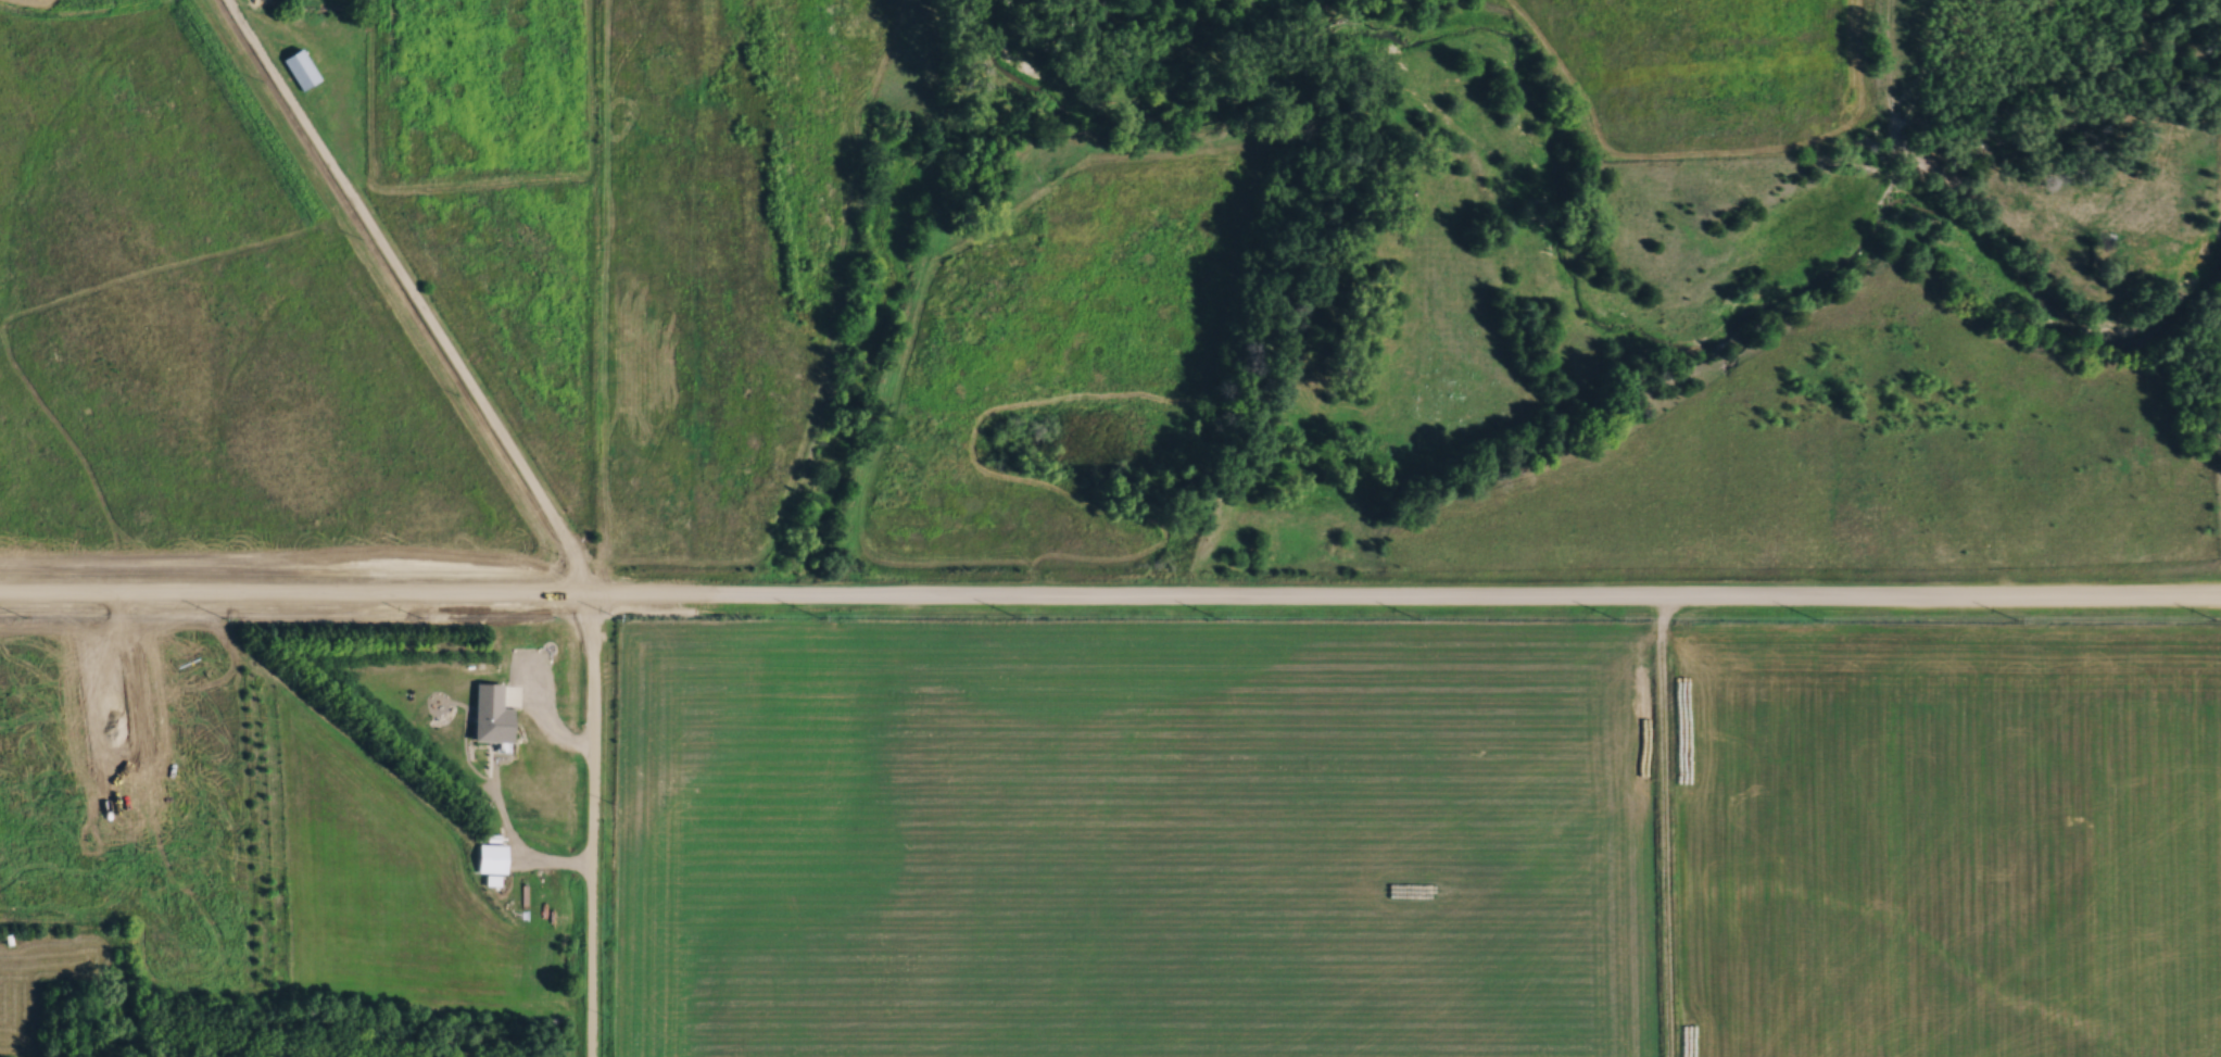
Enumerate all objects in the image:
building: (301, 68)
road: (535, 491)
road: (1110, 599)
road: (1665, 828)
building: (490, 858)

